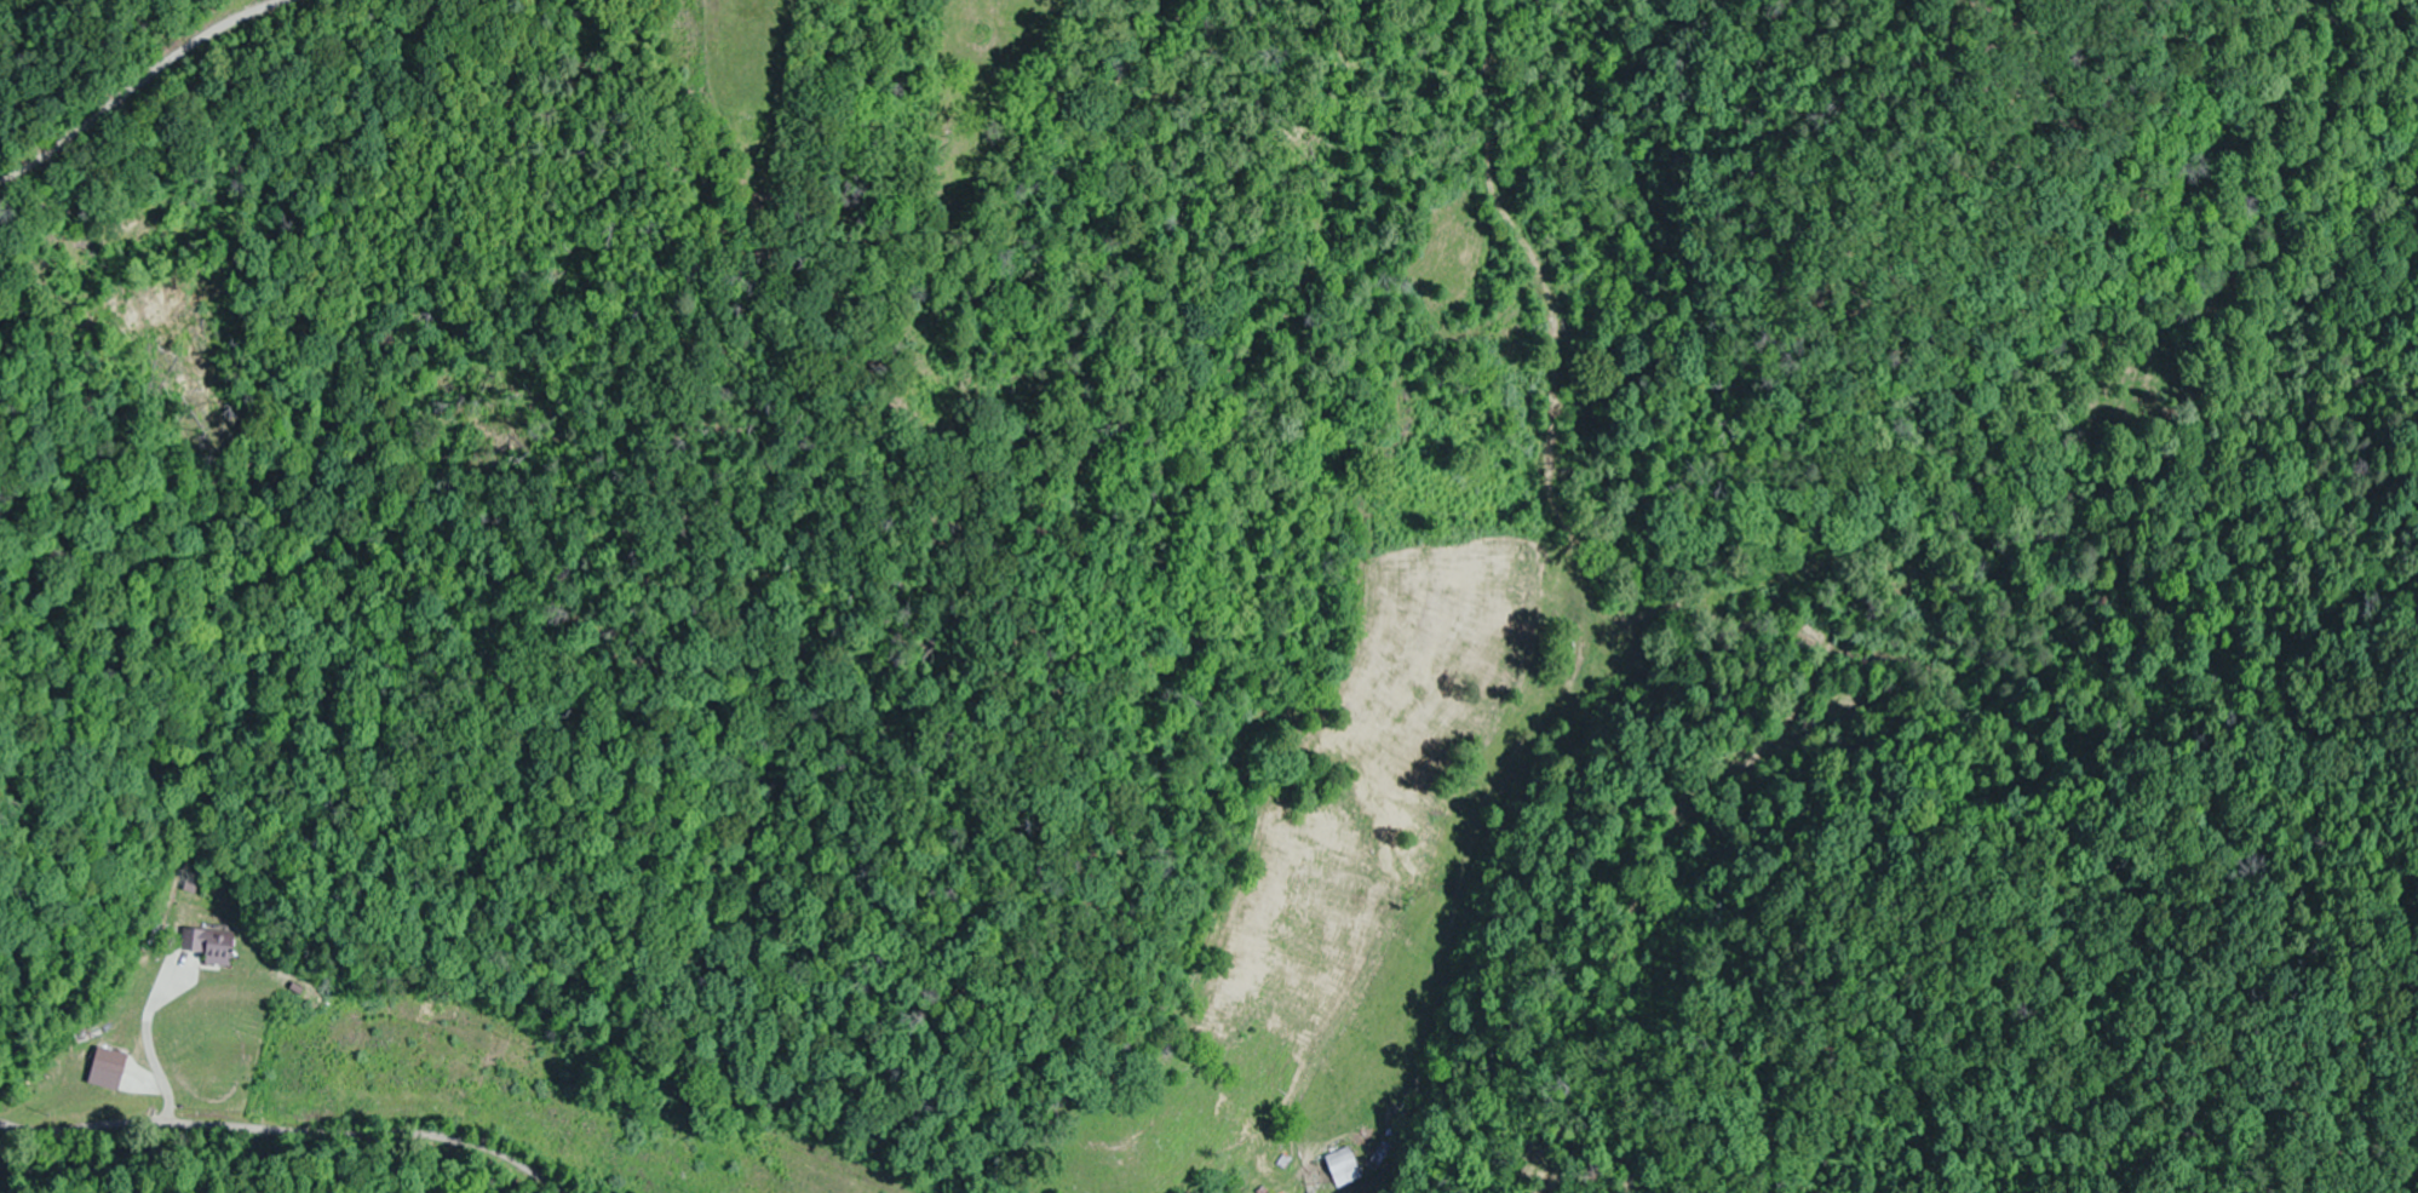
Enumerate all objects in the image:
building: (211, 947)
building: (110, 1063)
road: (291, 1131)
building: (1344, 1164)

